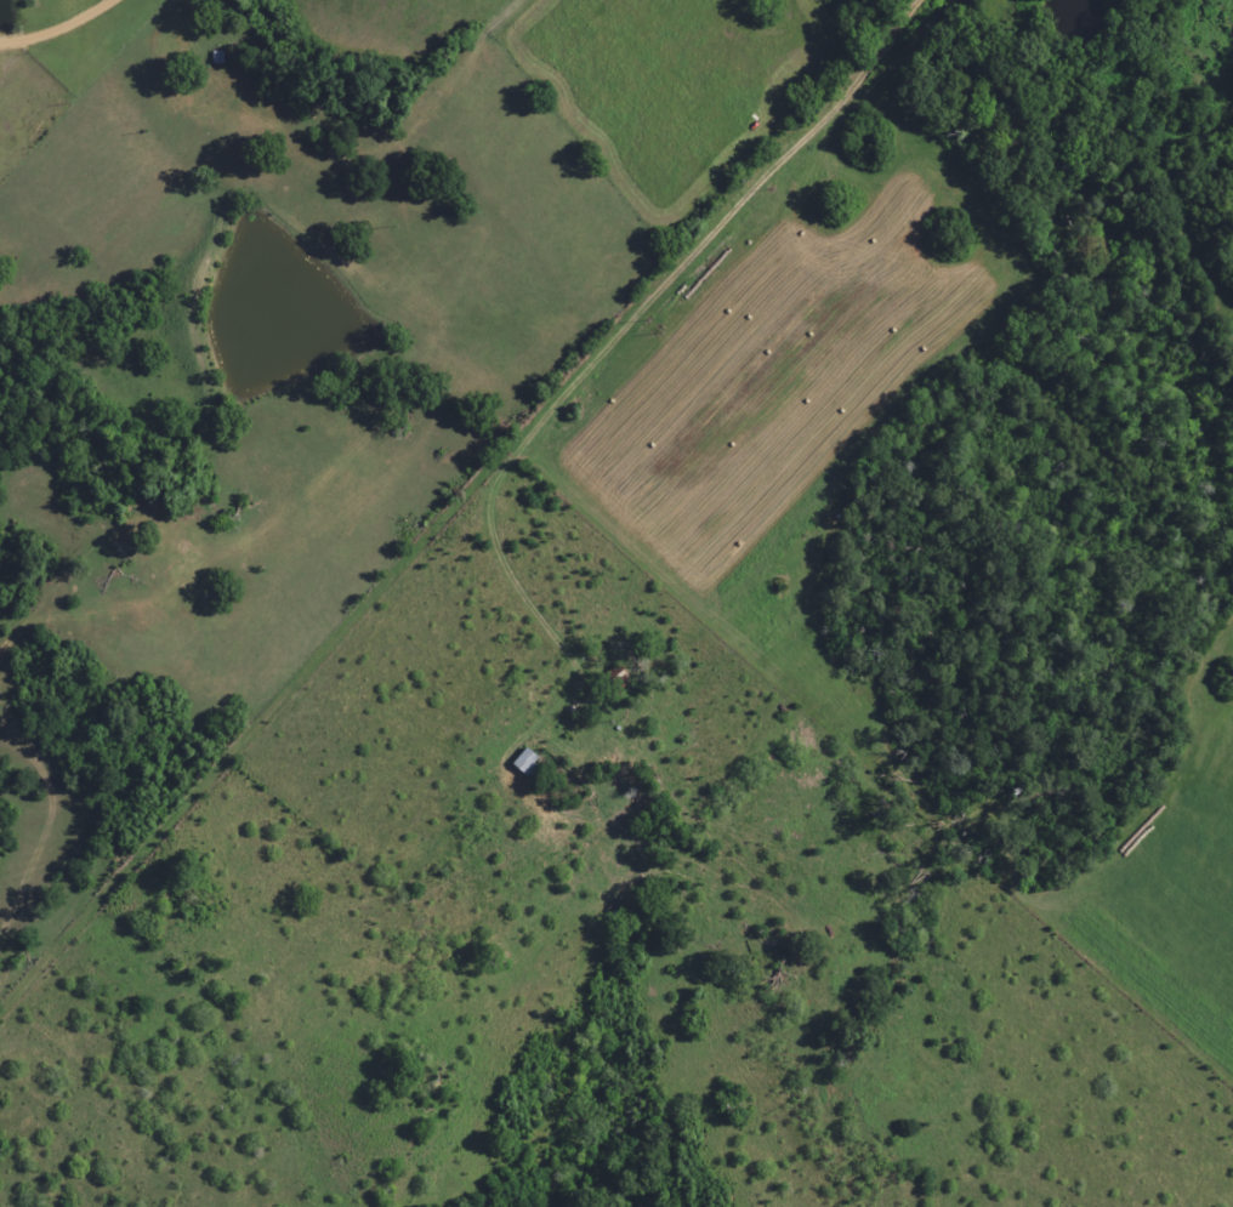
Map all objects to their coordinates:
road: (586, 324)
building: (608, 681)
building: (516, 763)

